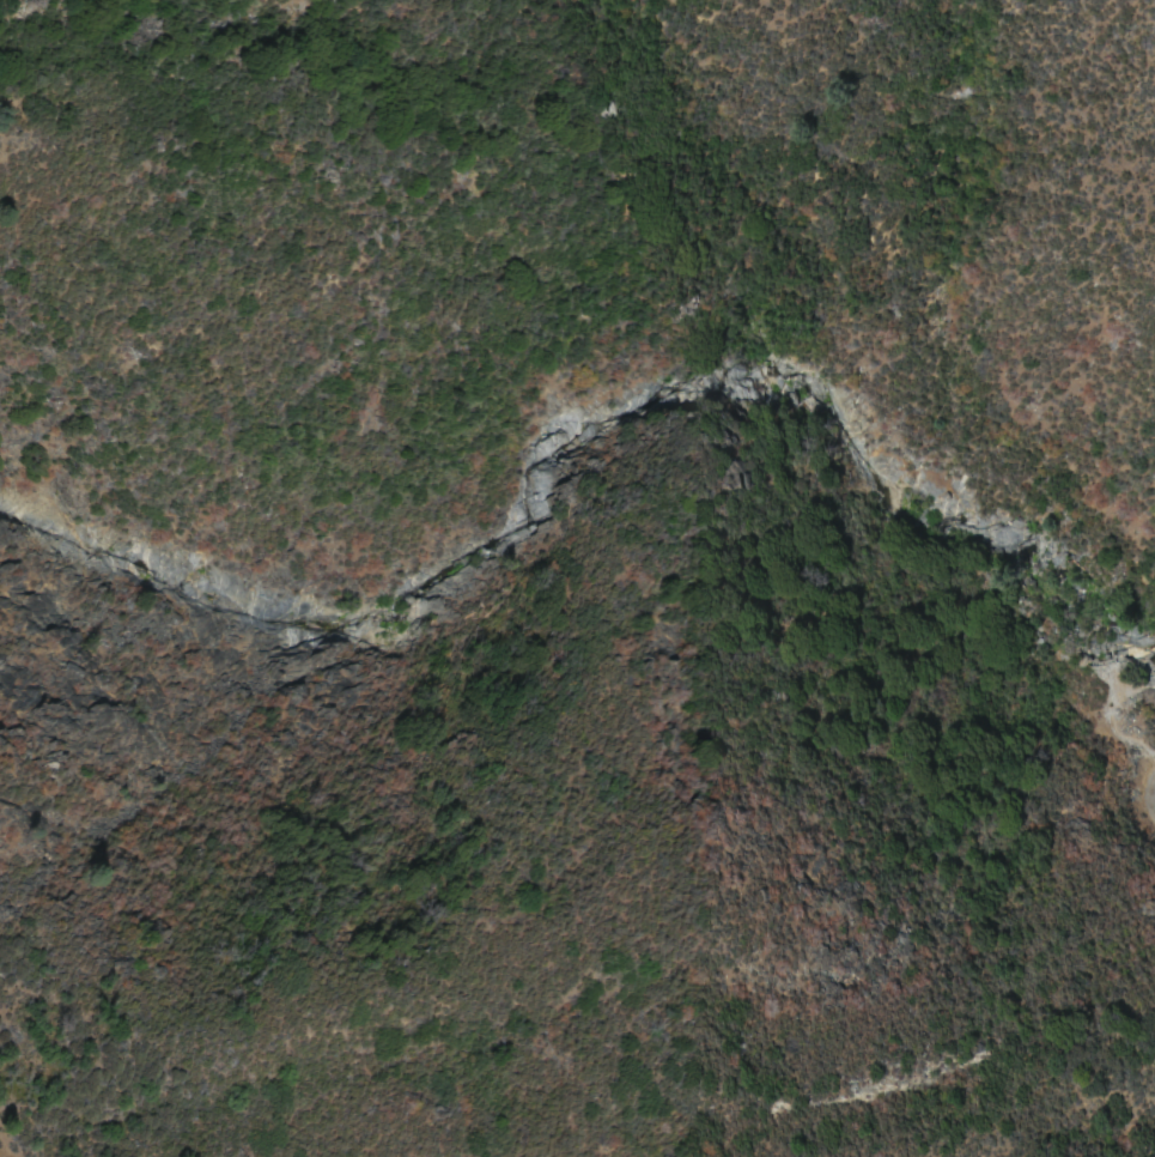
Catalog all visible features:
road: (1125, 782)

